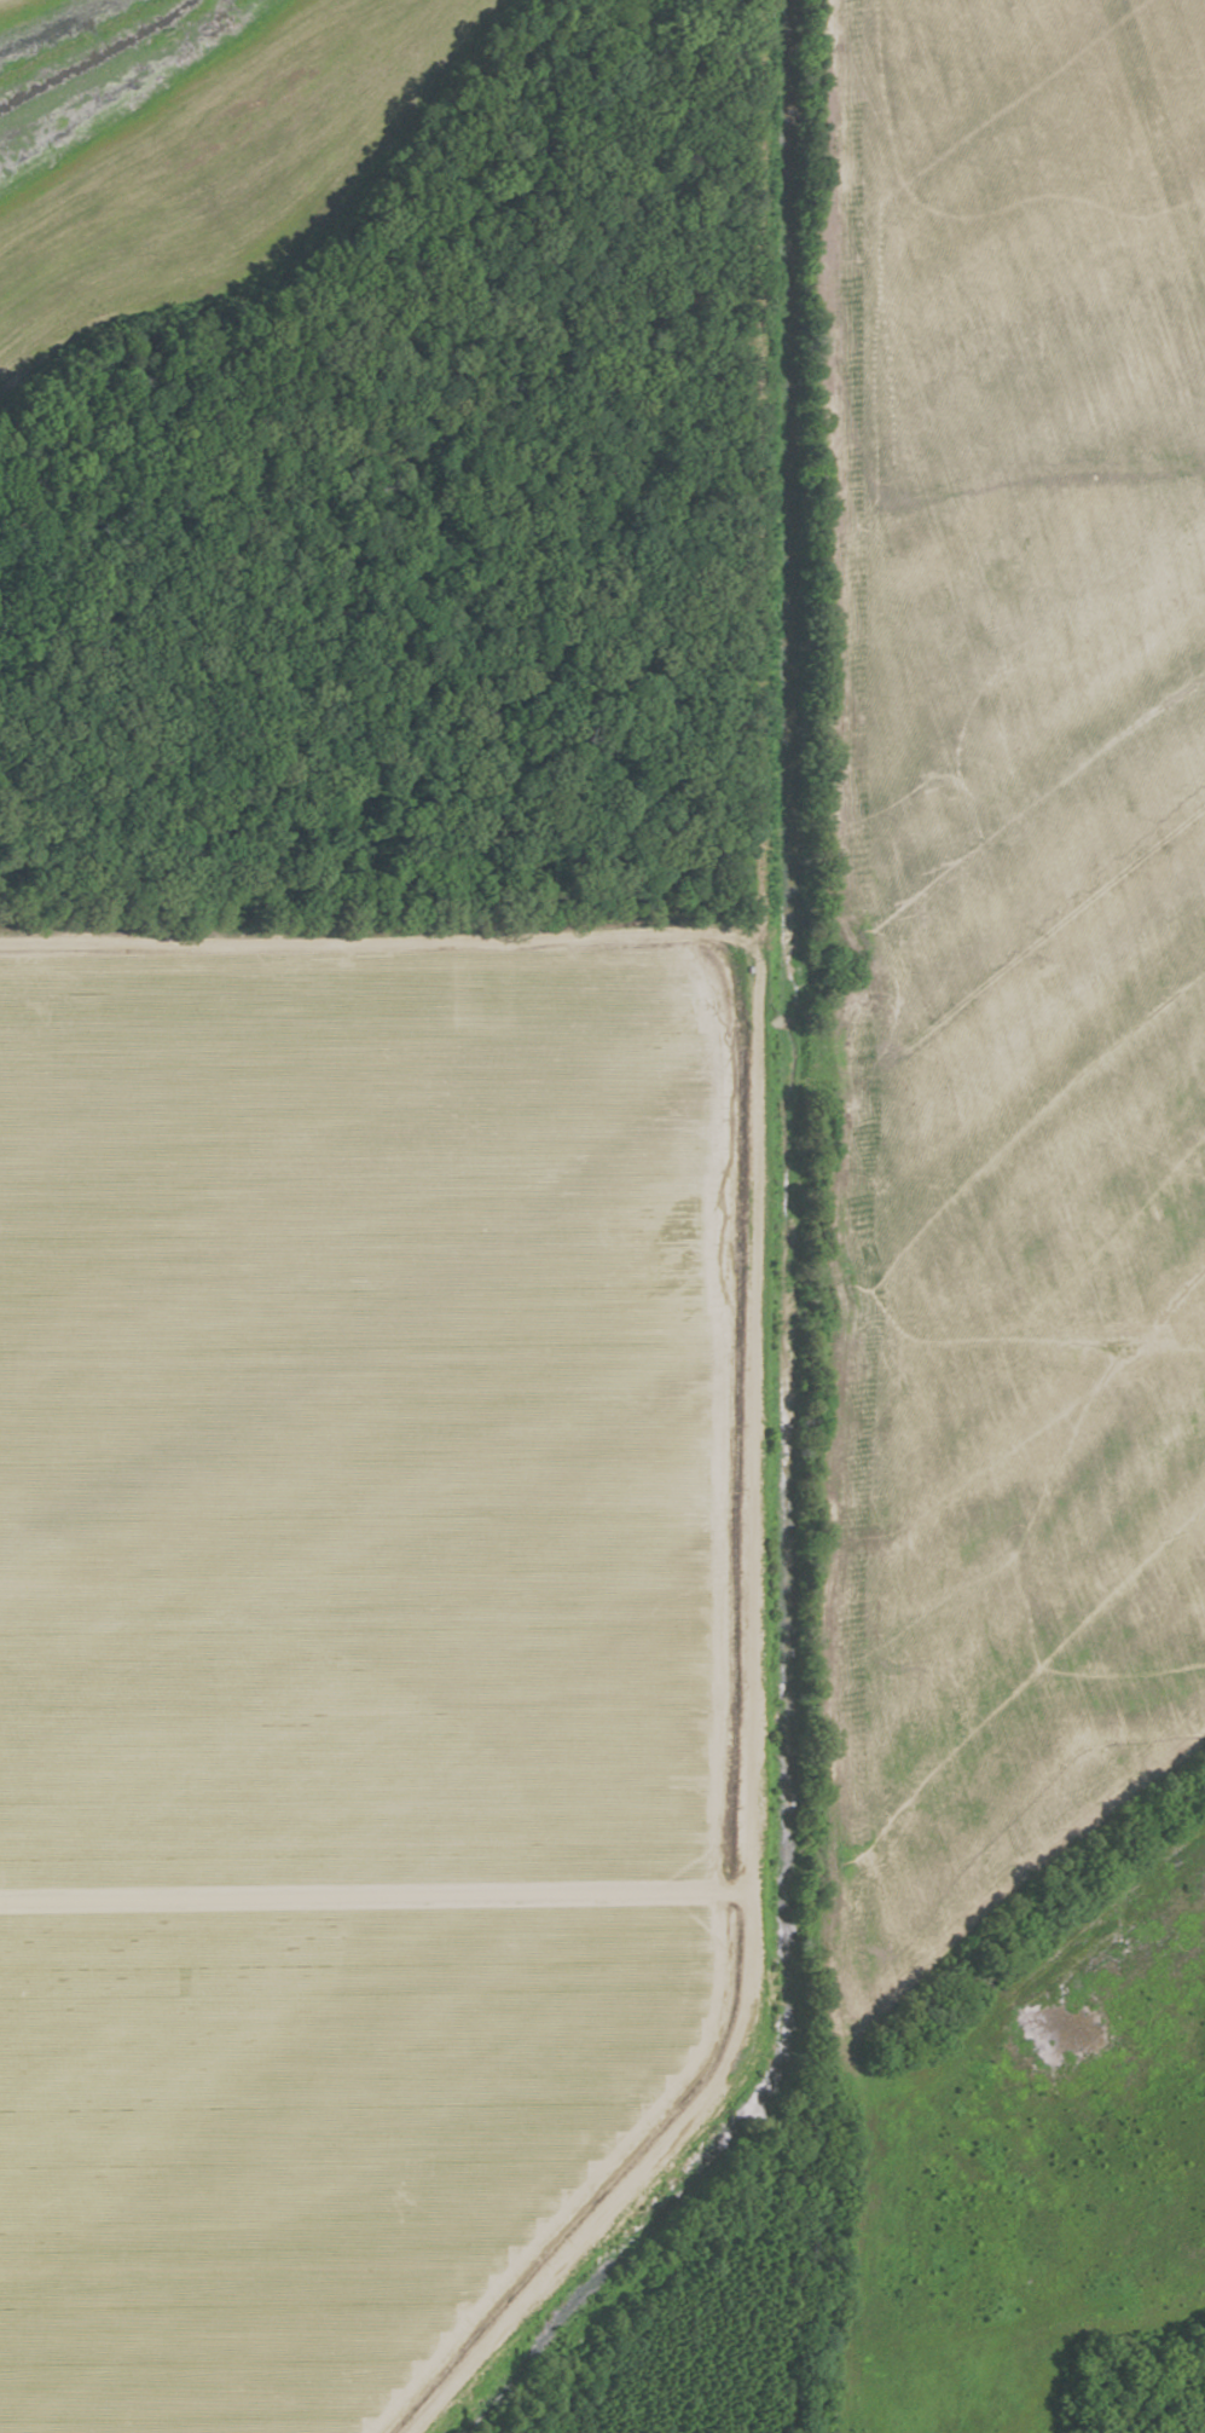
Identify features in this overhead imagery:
road: (730, 1745)
road: (363, 1895)

